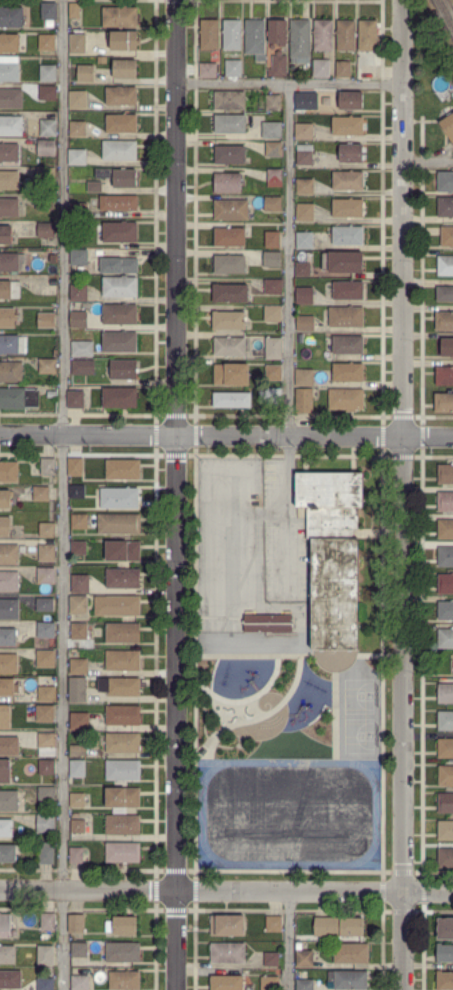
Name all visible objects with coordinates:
building: (73, 10)
railway: (447, 10)
building: (47, 11)
building: (10, 16)
building: (119, 16)
building: (278, 31)
building: (208, 34)
building: (232, 34)
building: (323, 34)
building: (345, 35)
building: (368, 35)
building: (255, 38)
building: (123, 40)
building: (300, 40)
building: (46, 42)
building: (9, 43)
building: (76, 43)
building: (278, 66)
building: (233, 67)
building: (9, 68)
building: (124, 68)
building: (322, 68)
building: (342, 68)
building: (354, 68)
building: (207, 69)
building: (368, 71)
building: (48, 72)
building: (85, 73)
road: (289, 82)
building: (48, 93)
building: (120, 96)
building: (10, 99)
building: (78, 99)
building: (229, 100)
building: (305, 100)
building: (351, 100)
building: (273, 102)
building: (121, 123)
building: (230, 124)
building: (448, 124)
building: (11, 126)
building: (347, 126)
building: (48, 127)
building: (77, 128)
building: (271, 129)
building: (303, 130)
building: (47, 148)
building: (119, 150)
building: (9, 152)
building: (274, 152)
building: (351, 152)
building: (229, 155)
building: (304, 155)
building: (78, 157)
road: (427, 160)
building: (47, 173)
building: (118, 176)
building: (275, 178)
building: (9, 180)
building: (347, 180)
building: (445, 181)
building: (228, 182)
building: (94, 186)
building: (305, 186)
building: (45, 202)
building: (272, 202)
building: (118, 203)
building: (8, 207)
building: (445, 207)
building: (347, 208)
building: (230, 209)
building: (78, 210)
building: (304, 212)
building: (103, 215)
building: (46, 230)
building: (119, 231)
building: (5, 234)
building: (347, 235)
building: (229, 236)
building: (447, 236)
building: (272, 239)
building: (304, 240)
building: (36, 255)
building: (79, 257)
building: (52, 258)
building: (272, 258)
road: (288, 258)
building: (11, 262)
building: (343, 262)
building: (229, 263)
building: (119, 265)
building: (444, 266)
building: (303, 269)
building: (53, 286)
building: (120, 286)
building: (273, 287)
building: (9, 289)
building: (347, 290)
building: (78, 291)
building: (229, 293)
building: (445, 294)
building: (305, 295)
building: (272, 313)
building: (119, 314)
building: (346, 316)
building: (7, 318)
building: (46, 319)
building: (79, 320)
building: (228, 320)
building: (444, 321)
building: (306, 323)
building: (120, 341)
building: (12, 344)
building: (273, 344)
building: (348, 344)
building: (228, 346)
building: (447, 347)
building: (82, 348)
building: (55, 353)
building: (47, 366)
building: (79, 368)
building: (122, 369)
building: (10, 371)
building: (273, 372)
building: (347, 372)
building: (231, 374)
building: (444, 376)
building: (304, 377)
building: (52, 394)
building: (270, 396)
building: (18, 397)
building: (119, 397)
building: (345, 398)
building: (76, 399)
building: (231, 399)
building: (304, 400)
building: (444, 401)
road: (226, 435)
building: (75, 466)
building: (48, 467)
building: (122, 468)
building: (9, 472)
building: (445, 474)
building: (77, 491)
building: (41, 493)
road: (62, 494)
road: (402, 494)
road: (175, 495)
building: (118, 497)
building: (5, 499)
building: (445, 501)
road: (286, 506)
building: (79, 521)
building: (119, 523)
building: (4, 526)
building: (445, 529)
building: (47, 530)
building: (79, 547)
building: (123, 550)
building: (46, 552)
building: (8, 553)
building: (332, 555)
building: (446, 556)
building: (45, 575)
building: (123, 578)
building: (8, 581)
building: (79, 583)
building: (445, 583)
building: (44, 605)
building: (79, 605)
building: (117, 605)
building: (9, 608)
building: (445, 610)
building: (267, 622)
building: (45, 629)
building: (79, 631)
building: (123, 633)
building: (7, 637)
building: (445, 638)
building: (45, 658)
building: (123, 660)
building: (8, 664)
building: (77, 666)
building: (451, 666)
building: (7, 686)
building: (119, 686)
building: (78, 689)
building: (46, 693)
building: (445, 693)
building: (45, 713)
building: (123, 715)
building: (5, 716)
building: (79, 720)
building: (445, 720)
building: (122, 742)
building: (47, 744)
building: (9, 746)
building: (445, 748)
building: (78, 749)
building: (46, 767)
building: (76, 768)
building: (4, 770)
building: (122, 770)
building: (445, 775)
building: (46, 793)
building: (121, 799)
building: (10, 800)
building: (77, 800)
building: (445, 802)
building: (46, 822)
building: (123, 824)
building: (77, 825)
building: (6, 828)
building: (445, 830)
building: (9, 852)
building: (122, 852)
building: (46, 853)
building: (75, 855)
building: (445, 857)
road: (226, 891)
building: (47, 922)
building: (76, 923)
building: (272, 923)
building: (227, 924)
building: (120, 925)
building: (7, 926)
building: (337, 928)
building: (445, 928)
road: (288, 940)
building: (78, 949)
building: (121, 952)
building: (226, 952)
building: (45, 953)
building: (350, 953)
building: (444, 953)
building: (7, 954)
building: (304, 958)
building: (270, 959)
building: (10, 979)
building: (123, 980)
building: (347, 980)
building: (444, 980)
building: (225, 982)
building: (45, 983)
building: (79, 983)
building: (269, 983)
building: (304, 985)

